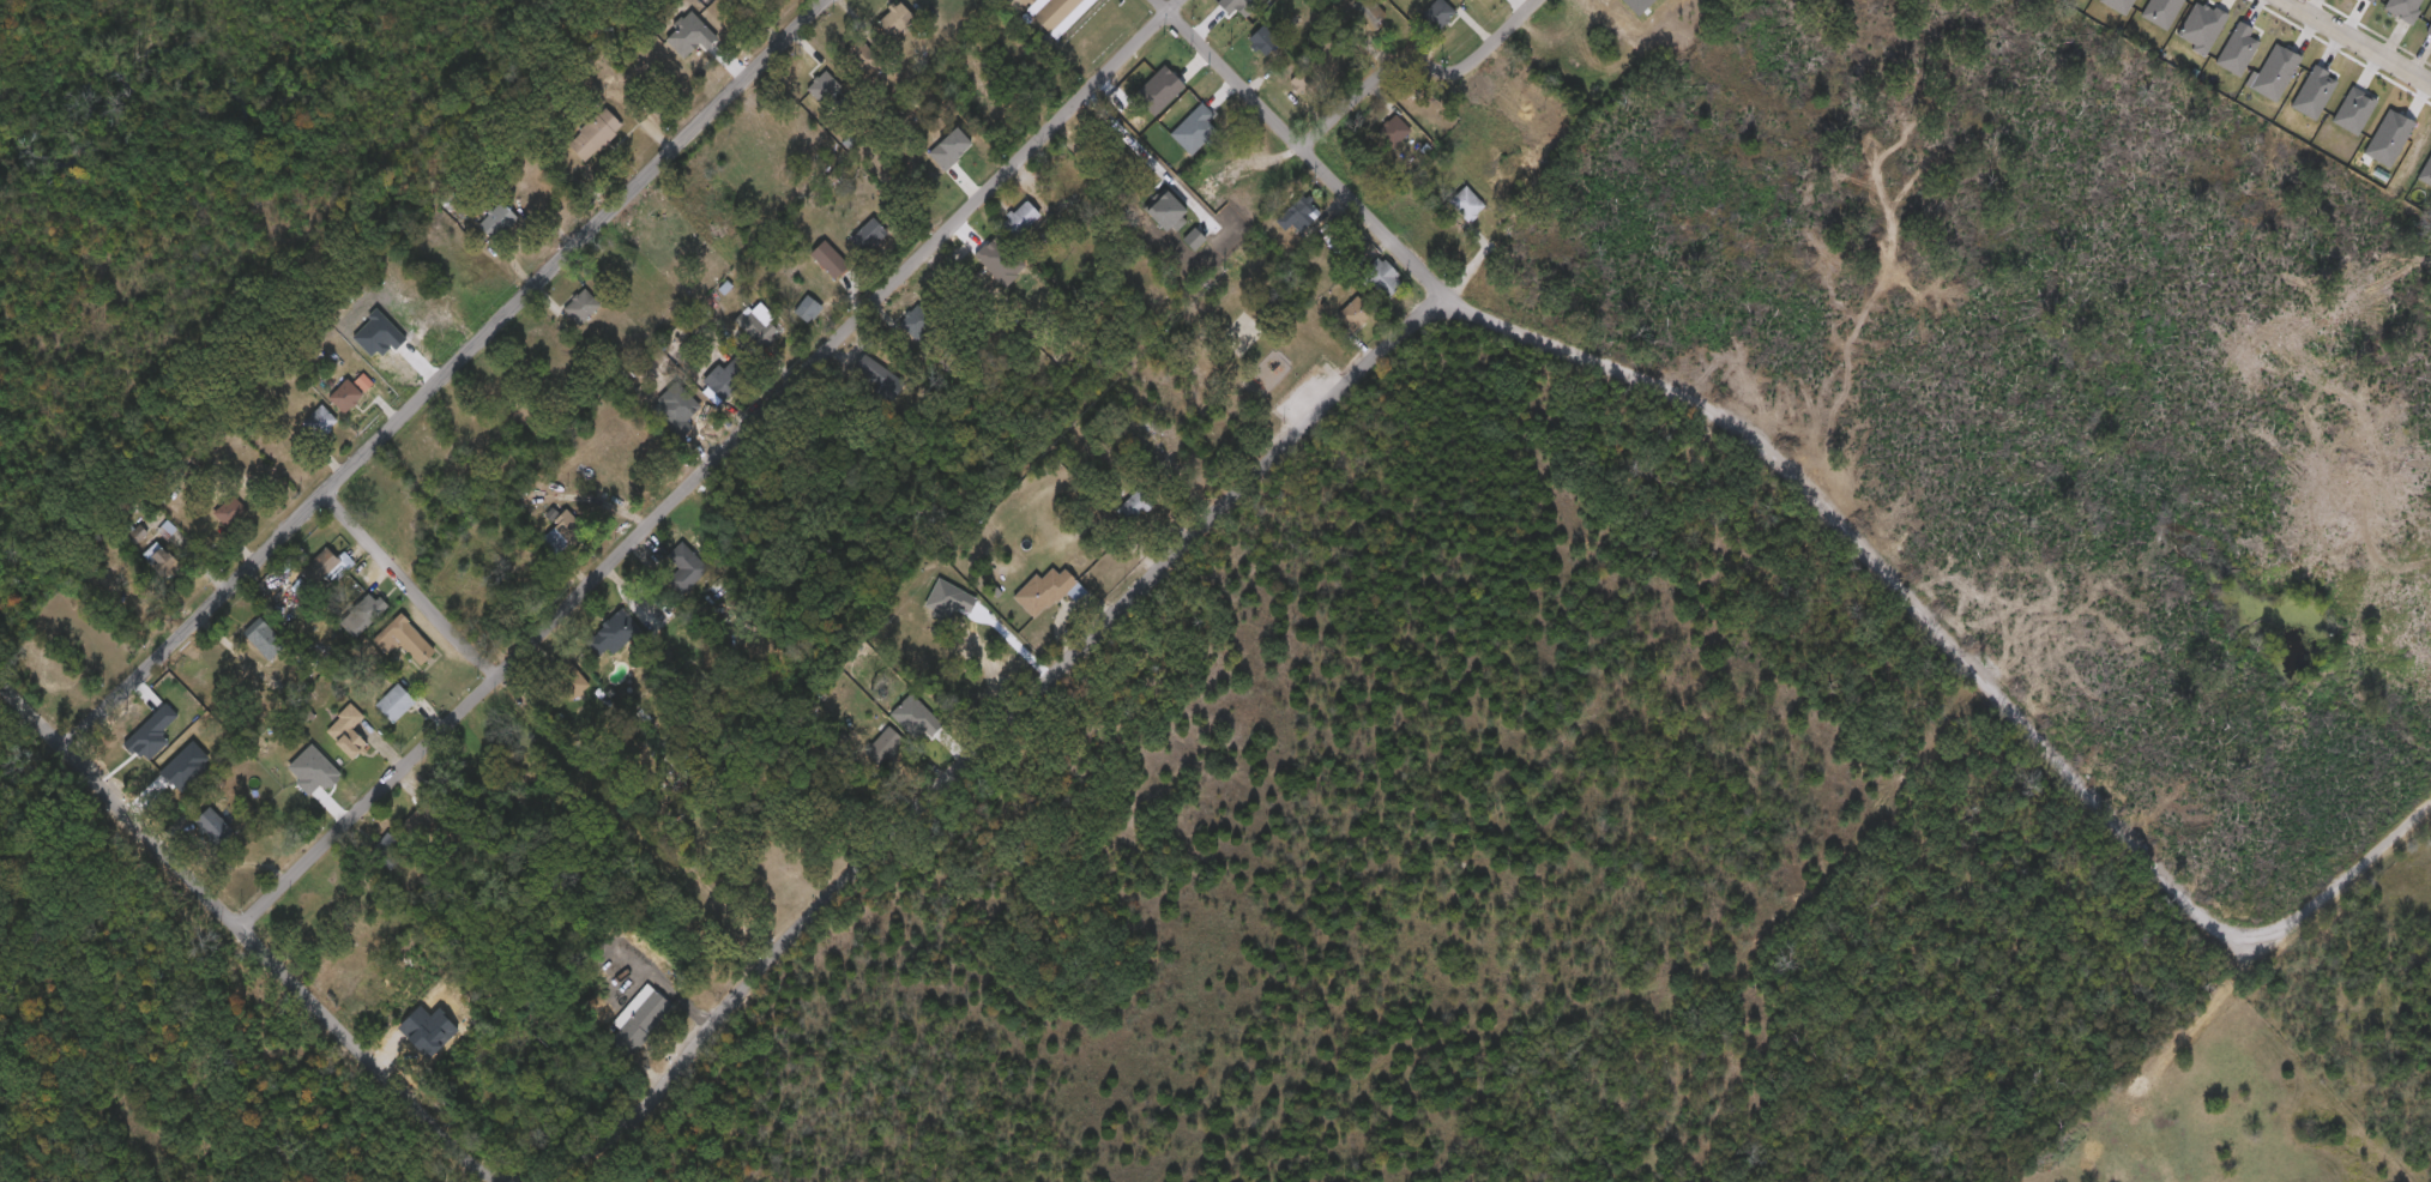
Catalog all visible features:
building: (1021, 2)
building: (1370, 13)
building: (1057, 14)
building: (1438, 14)
building: (894, 22)
building: (2429, 31)
building: (1263, 42)
road: (2354, 44)
road: (1416, 65)
building: (1304, 84)
building: (825, 88)
building: (1394, 133)
building: (593, 135)
building: (1063, 171)
building: (1467, 205)
building: (1298, 213)
building: (1021, 221)
building: (496, 222)
building: (869, 236)
building: (828, 260)
building: (629, 278)
building: (1382, 279)
building: (581, 307)
building: (809, 309)
building: (1356, 315)
building: (918, 321)
building: (758, 325)
road: (446, 373)
building: (724, 379)
building: (363, 384)
building: (345, 397)
building: (320, 423)
road: (1725, 423)
road: (712, 463)
building: (1134, 507)
building: (213, 514)
building: (161, 561)
building: (684, 571)
building: (325, 572)
building: (948, 602)
building: (366, 615)
building: (613, 635)
building: (404, 641)
building: (265, 643)
building: (568, 680)
building: (394, 705)
road: (560, 717)
building: (345, 734)
building: (879, 750)
road: (970, 756)
building: (325, 776)
building: (212, 826)
building: (384, 851)
road: (2340, 884)
building: (316, 924)
road: (246, 929)
building: (641, 1025)

